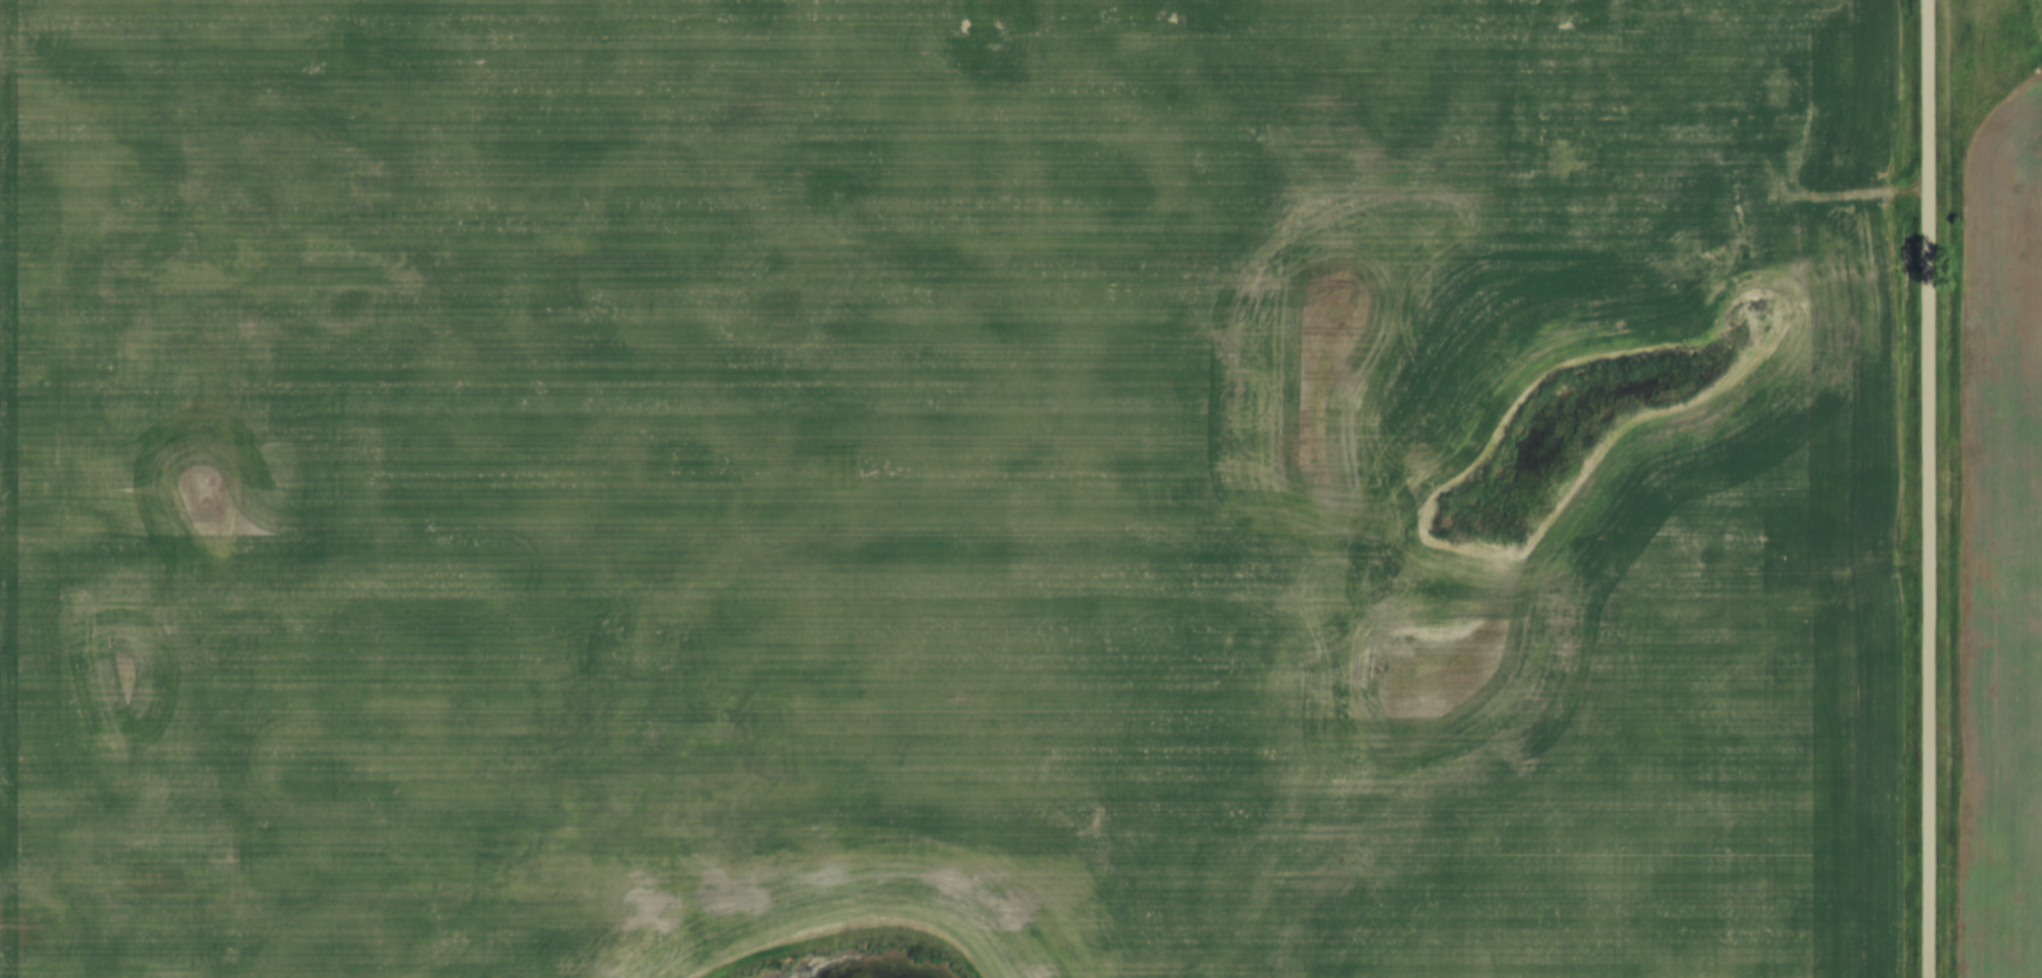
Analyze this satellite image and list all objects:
road: (1827, 196)
road: (1929, 489)

